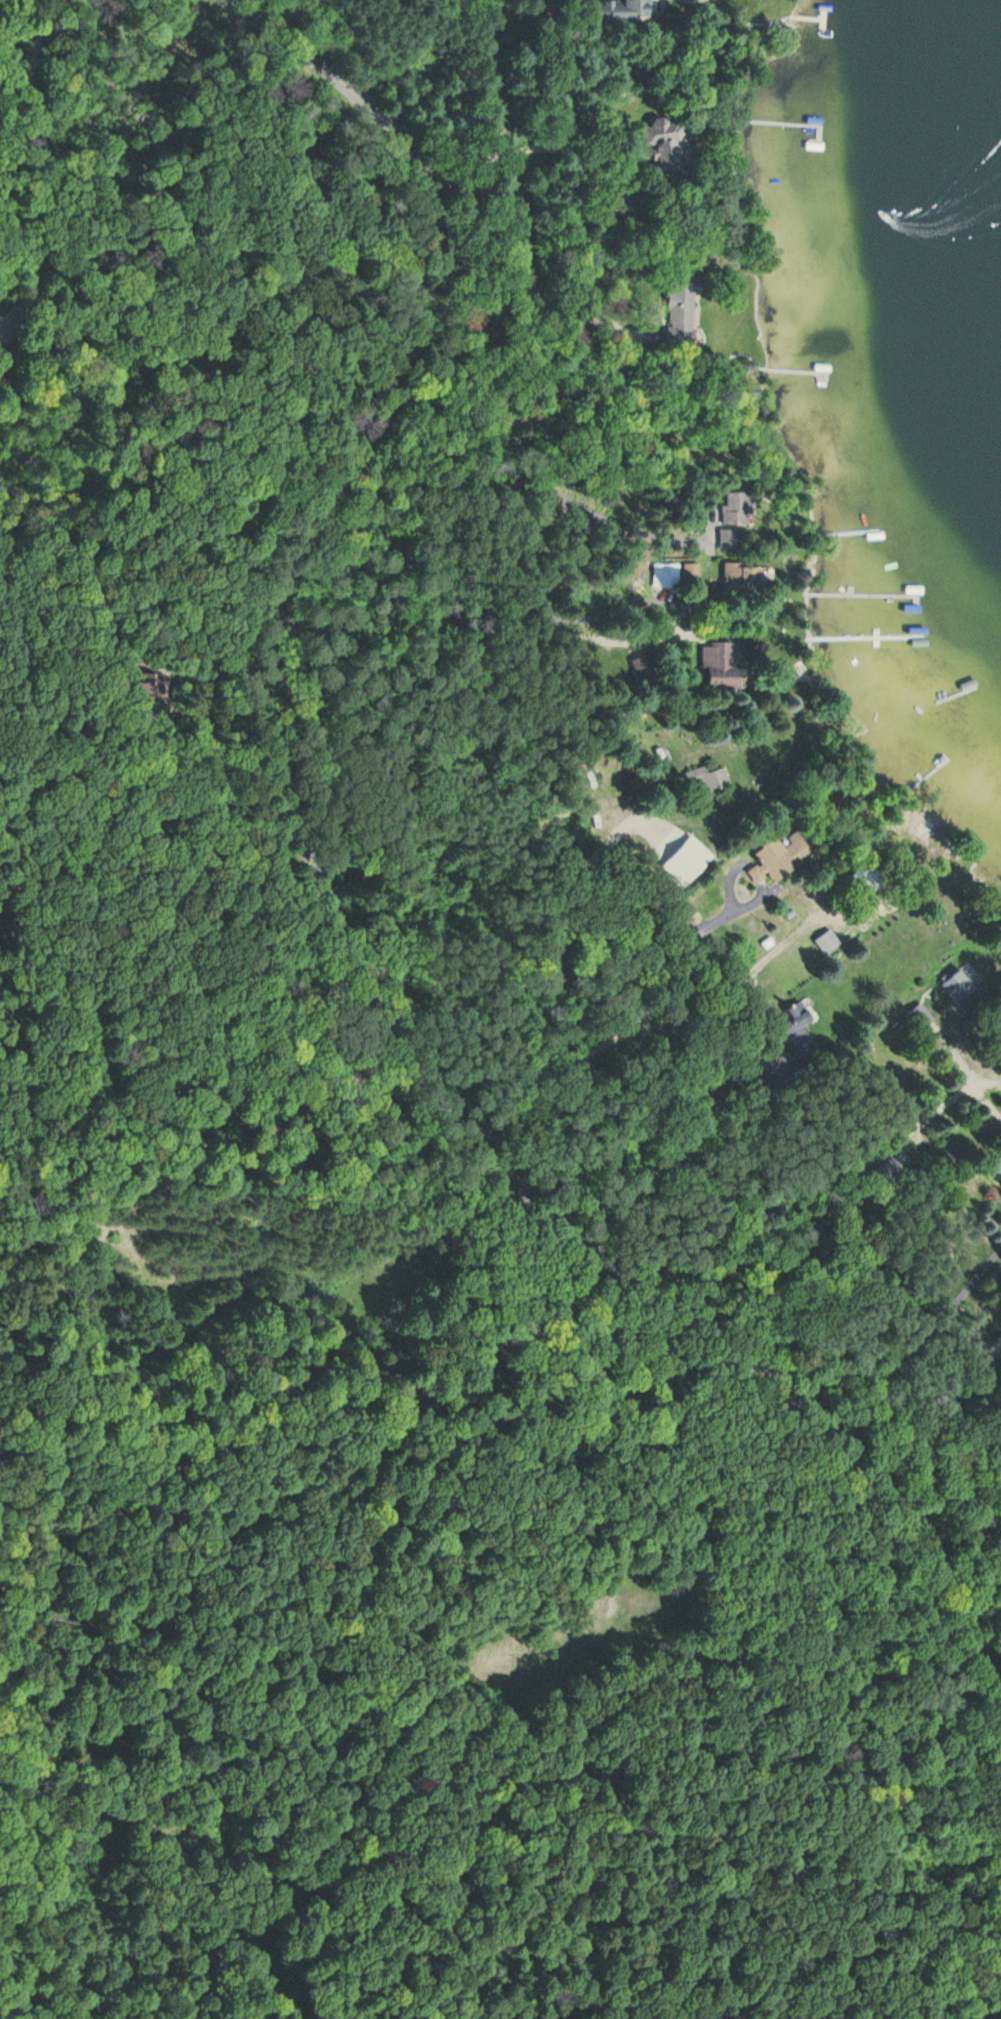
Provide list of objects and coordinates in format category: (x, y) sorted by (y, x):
road: (200, 1)
building: (623, 11)
road: (305, 31)
building: (665, 149)
building: (681, 308)
building: (737, 509)
building: (730, 539)
building: (667, 577)
building: (749, 579)
building: (722, 664)
road: (300, 669)
building: (646, 672)
building: (135, 689)
road: (324, 754)
building: (708, 778)
road: (350, 822)
building: (782, 856)
building: (865, 881)
road: (319, 914)
building: (826, 941)
building: (960, 985)
road: (572, 988)
building: (920, 1017)
building: (797, 1032)
building: (996, 1167)
building: (886, 1171)

